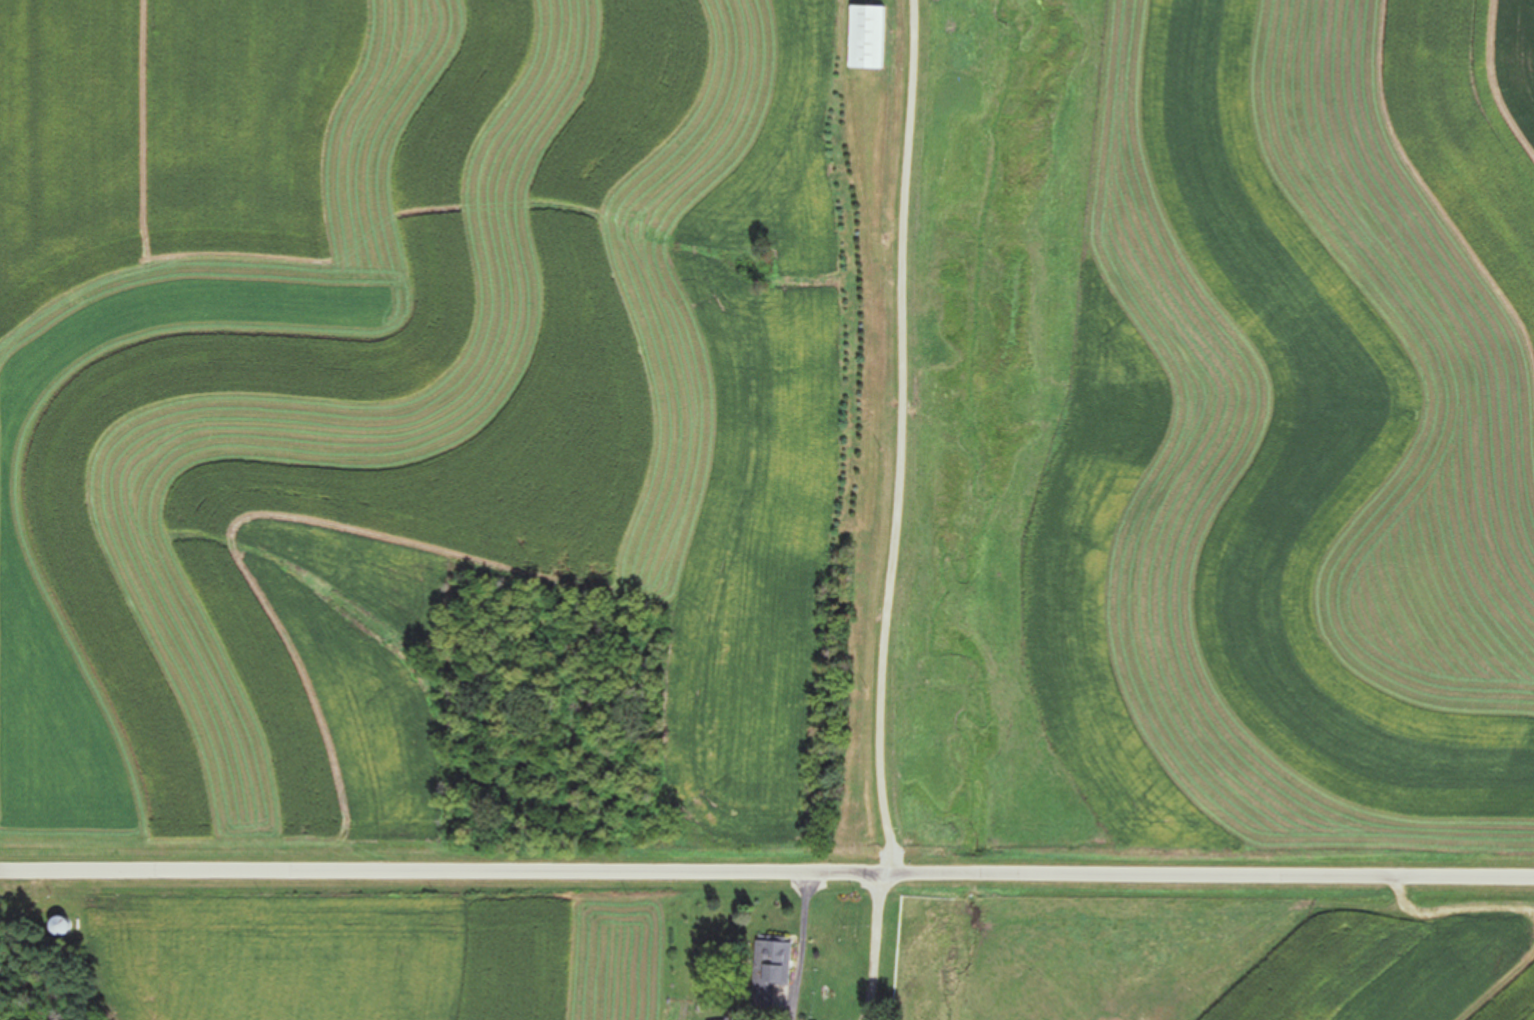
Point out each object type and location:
building: (863, 36)
road: (893, 438)
road: (766, 873)
building: (69, 928)
road: (808, 948)
road: (882, 948)
building: (767, 971)

